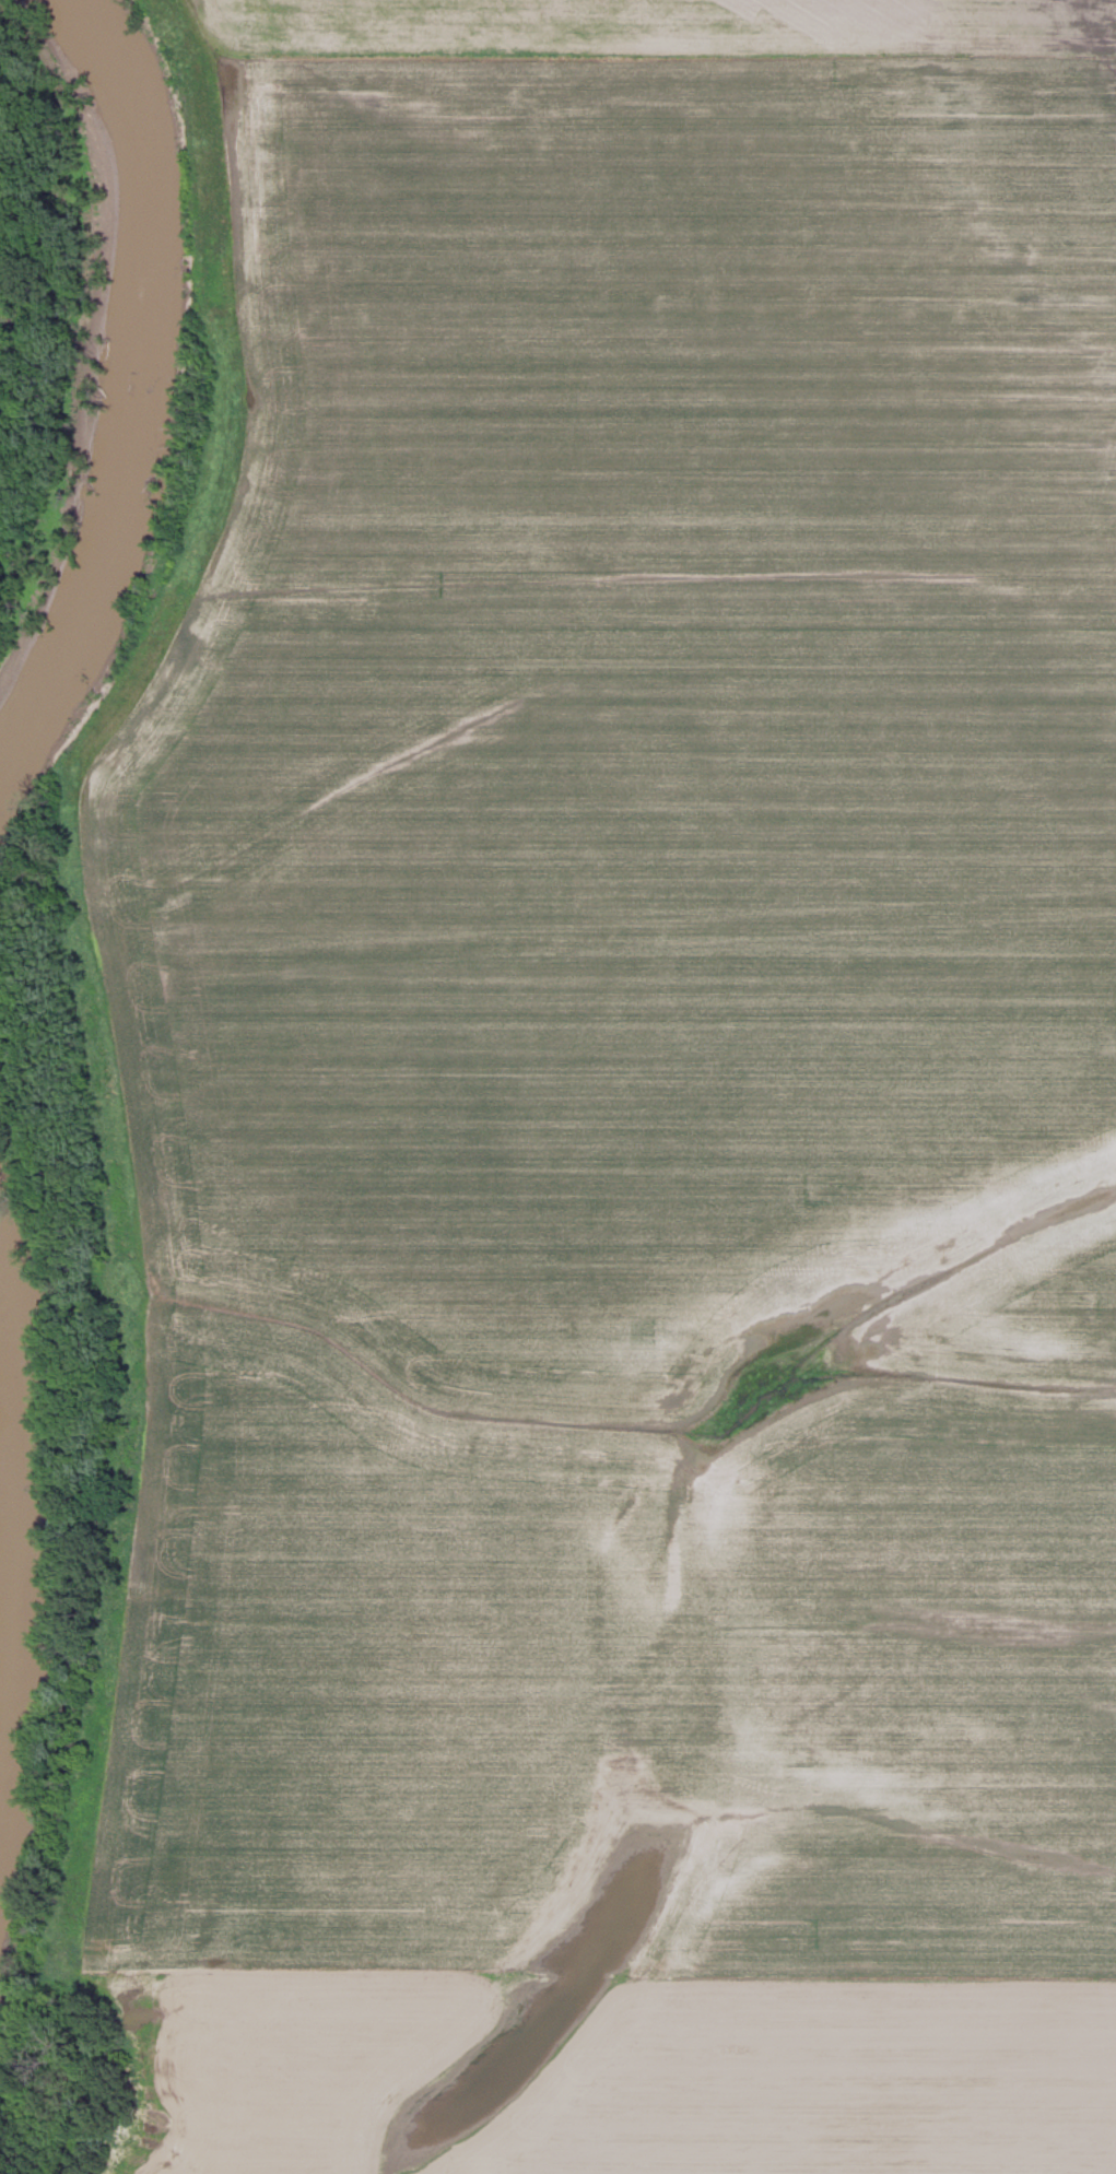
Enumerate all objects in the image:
river: (129, 362)
river: (7, 1520)

